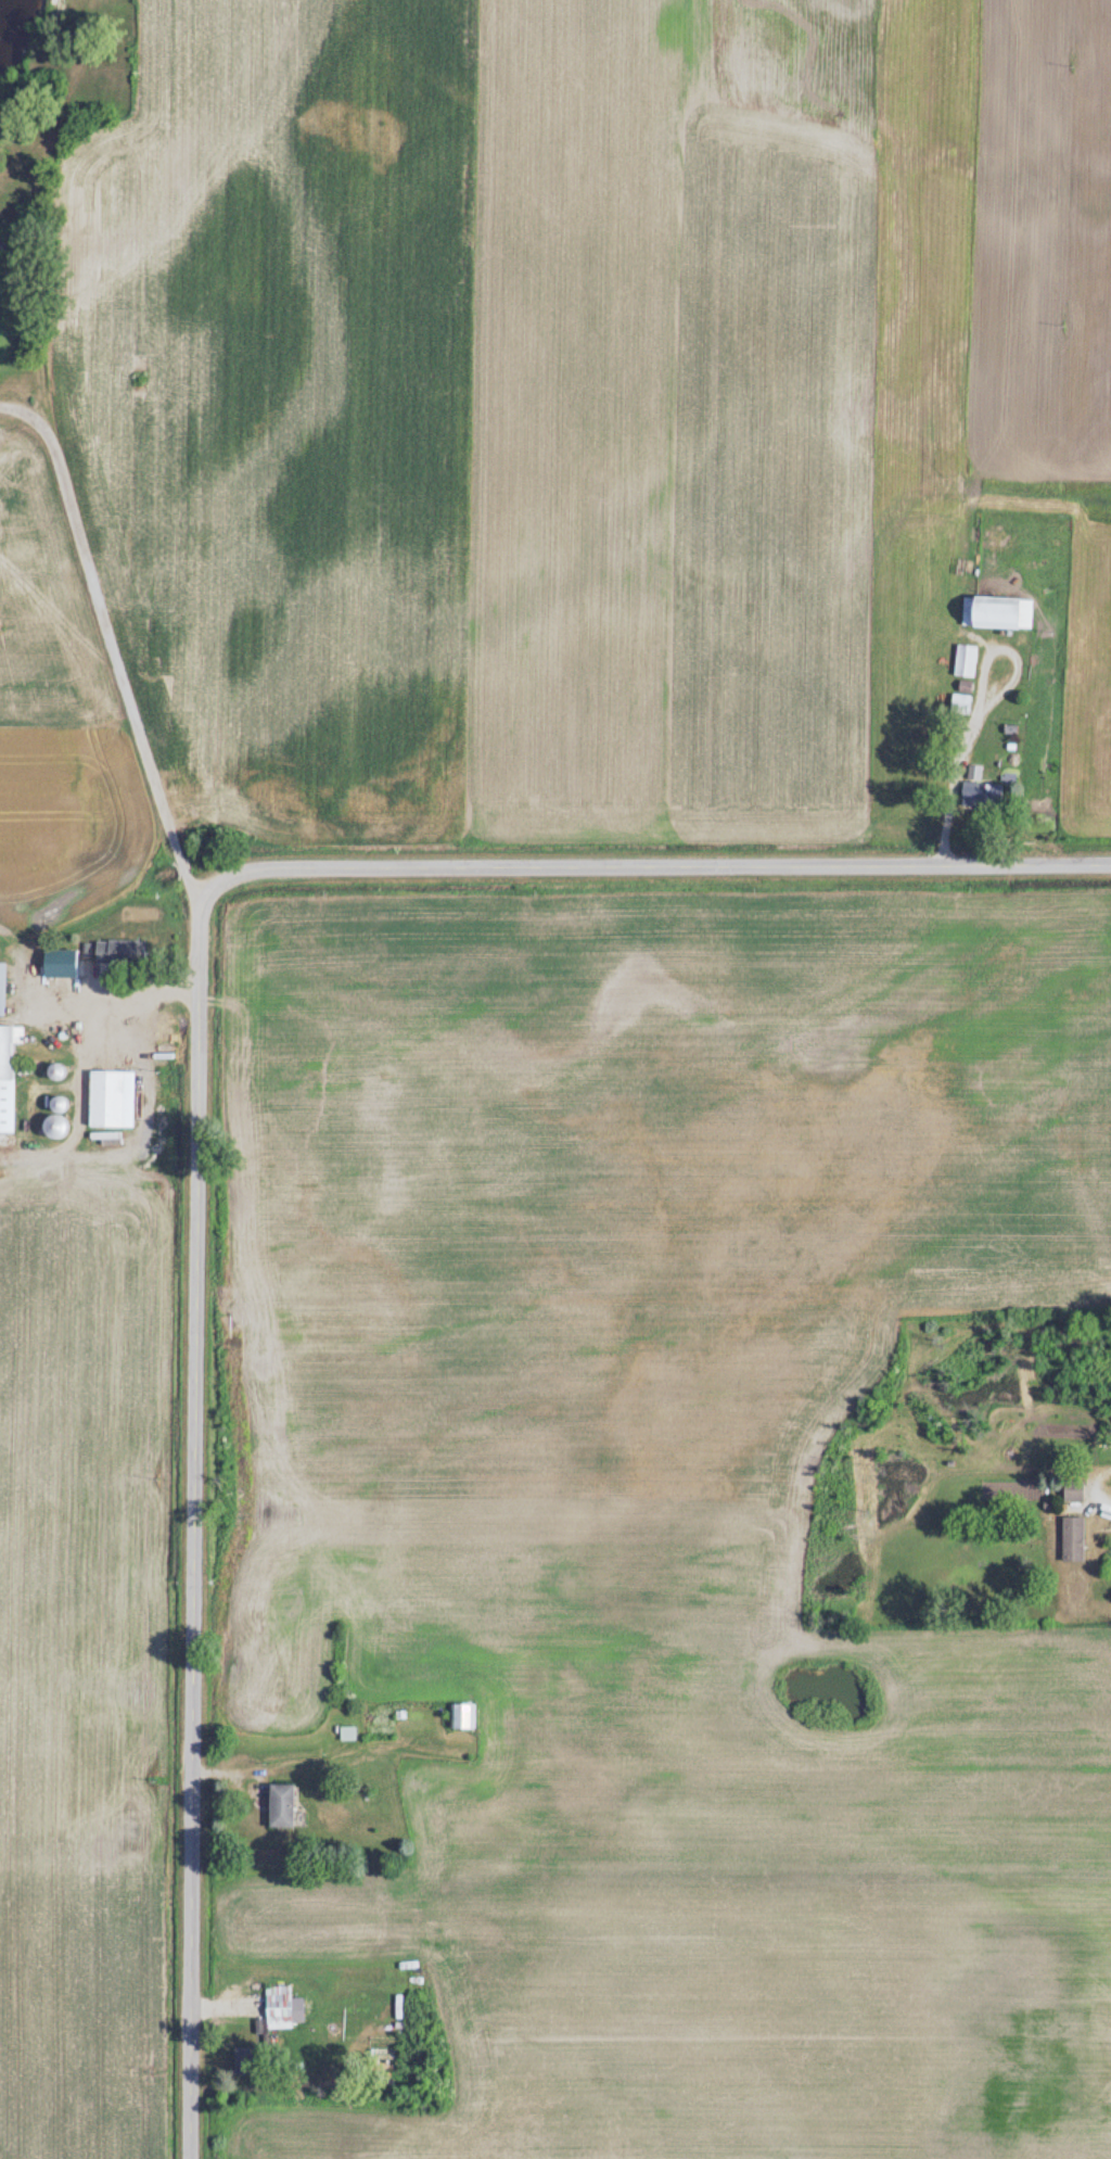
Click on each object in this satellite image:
building: (4, 249)
road: (13, 408)
road: (46, 468)
building: (998, 613)
building: (970, 661)
building: (963, 704)
road: (980, 709)
building: (987, 795)
road: (656, 865)
building: (126, 951)
building: (67, 962)
building: (4, 988)
building: (9, 1052)
road: (86, 1062)
building: (115, 1097)
building: (63, 1120)
road: (1096, 1486)
building: (1078, 1489)
road: (196, 1524)
building: (1077, 1538)
building: (467, 1715)
building: (352, 1732)
building: (289, 1805)
building: (283, 2005)
building: (253, 2059)

